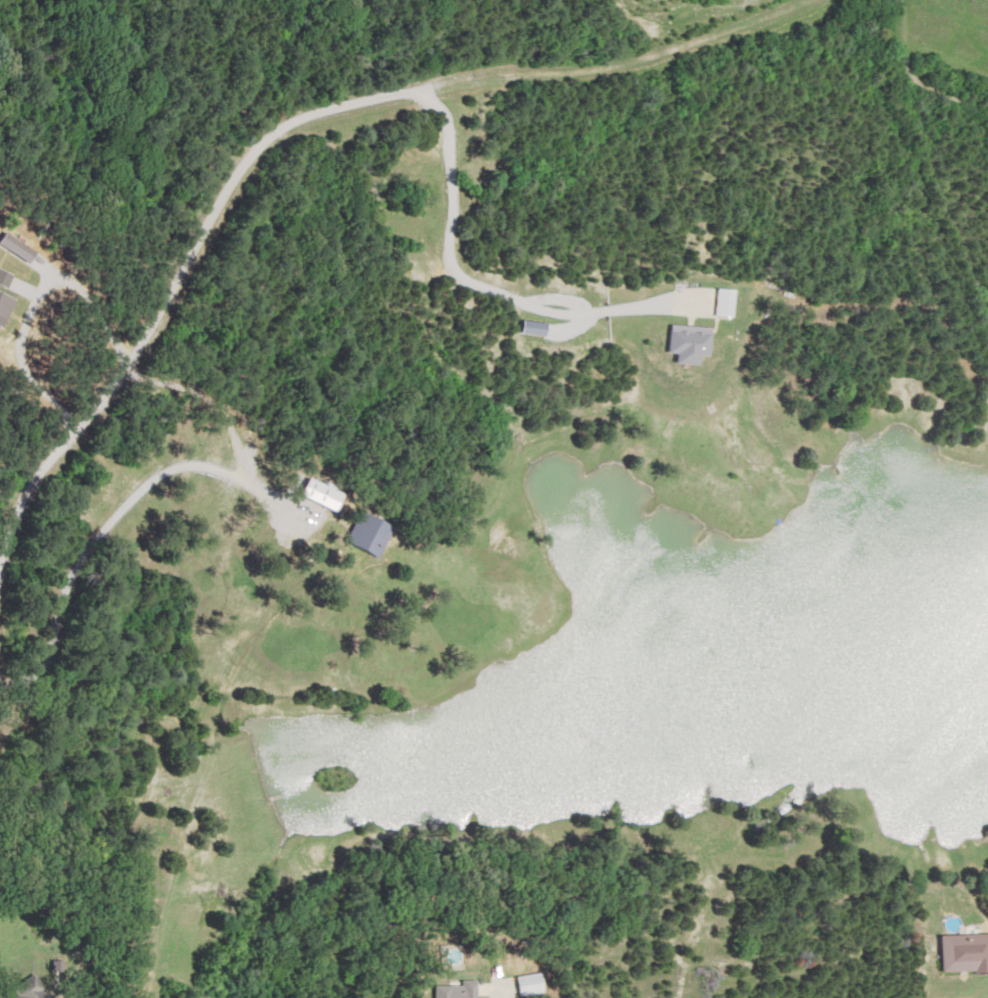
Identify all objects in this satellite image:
building: (950, 952)

